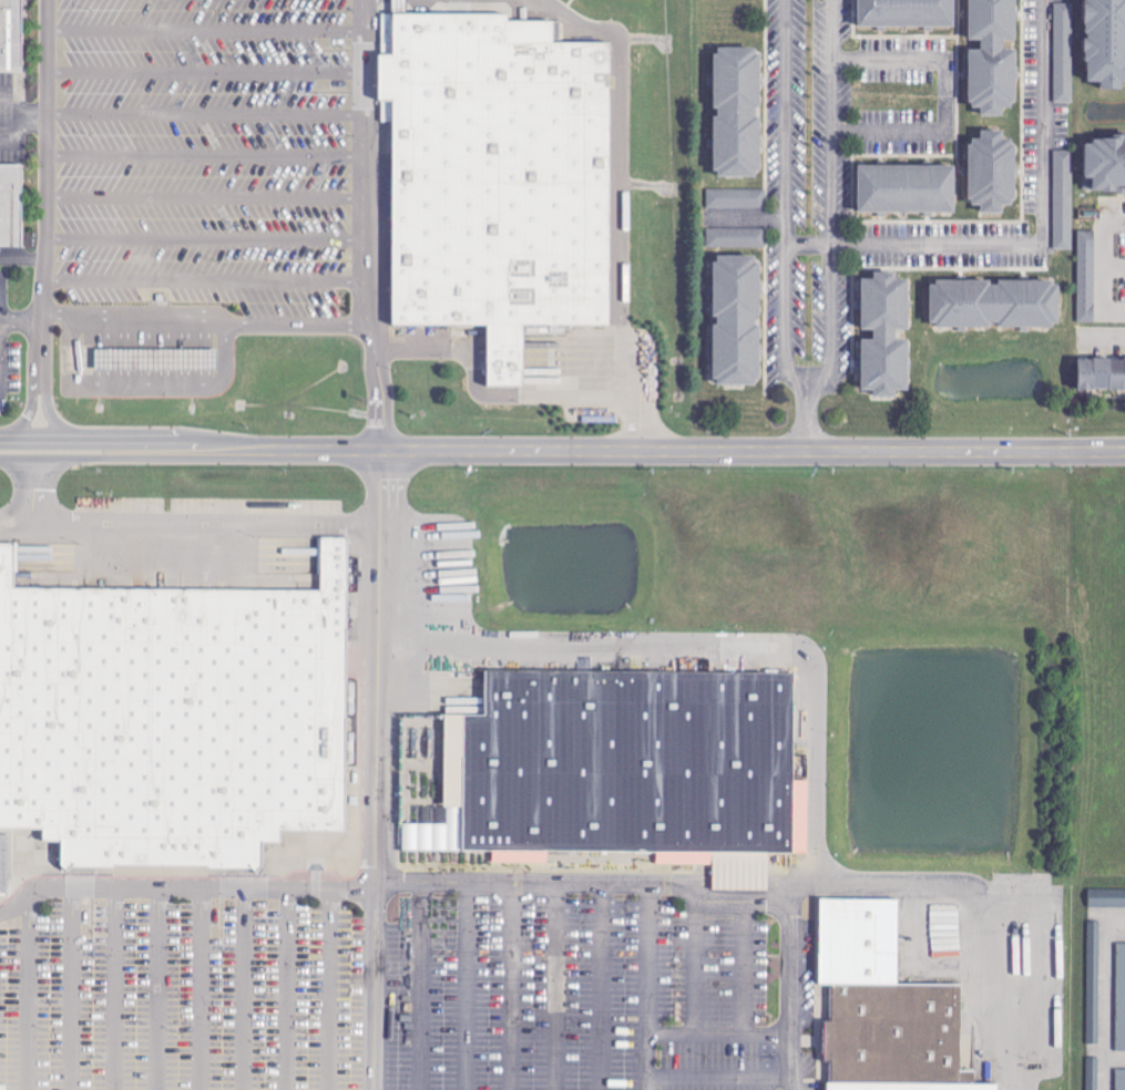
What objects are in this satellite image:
building: (907, 13)
road: (201, 29)
building: (11, 35)
building: (1102, 42)
building: (1058, 51)
building: (985, 56)
road: (890, 58)
road: (202, 70)
road: (947, 95)
road: (19, 111)
building: (738, 112)
road: (202, 113)
road: (1047, 122)
road: (616, 127)
road: (14, 132)
road: (890, 133)
road: (202, 153)
building: (1103, 164)
building: (993, 172)
building: (492, 178)
road: (43, 188)
building: (908, 189)
road: (203, 196)
building: (737, 198)
building: (1064, 199)
building: (9, 204)
road: (833, 206)
road: (362, 225)
road: (787, 227)
road: (203, 237)
building: (737, 238)
road: (909, 244)
road: (21, 255)
building: (1087, 277)
road: (202, 280)
building: (995, 304)
road: (3, 312)
road: (201, 315)
road: (22, 316)
road: (3, 320)
building: (737, 320)
building: (886, 335)
road: (1104, 342)
road: (457, 353)
building: (151, 360)
gas station: (151, 360)
building: (1102, 376)
road: (632, 385)
road: (151, 388)
road: (575, 397)
road: (44, 409)
road: (24, 410)
road: (59, 440)
road: (620, 450)
road: (58, 456)
road: (30, 486)
road: (188, 518)
building: (354, 655)
building: (171, 718)
building: (604, 765)
road: (377, 770)
road: (489, 880)
building: (855, 938)
road: (700, 967)
road: (738, 968)
road: (558, 984)
road: (603, 984)
road: (651, 984)
road: (425, 985)
road: (468, 985)
road: (514, 985)
road: (75, 988)
road: (119, 989)
road: (163, 989)
road: (206, 989)
road: (247, 989)
road: (289, 989)
road: (329, 989)
road: (33, 994)
parking lot: (385, 994)
building: (1121, 998)
road: (1105, 1000)
building: (891, 1031)
road: (720, 1041)
building: (1094, 1073)
road: (722, 1078)
building: (1121, 1079)
building: (906, 1086)

